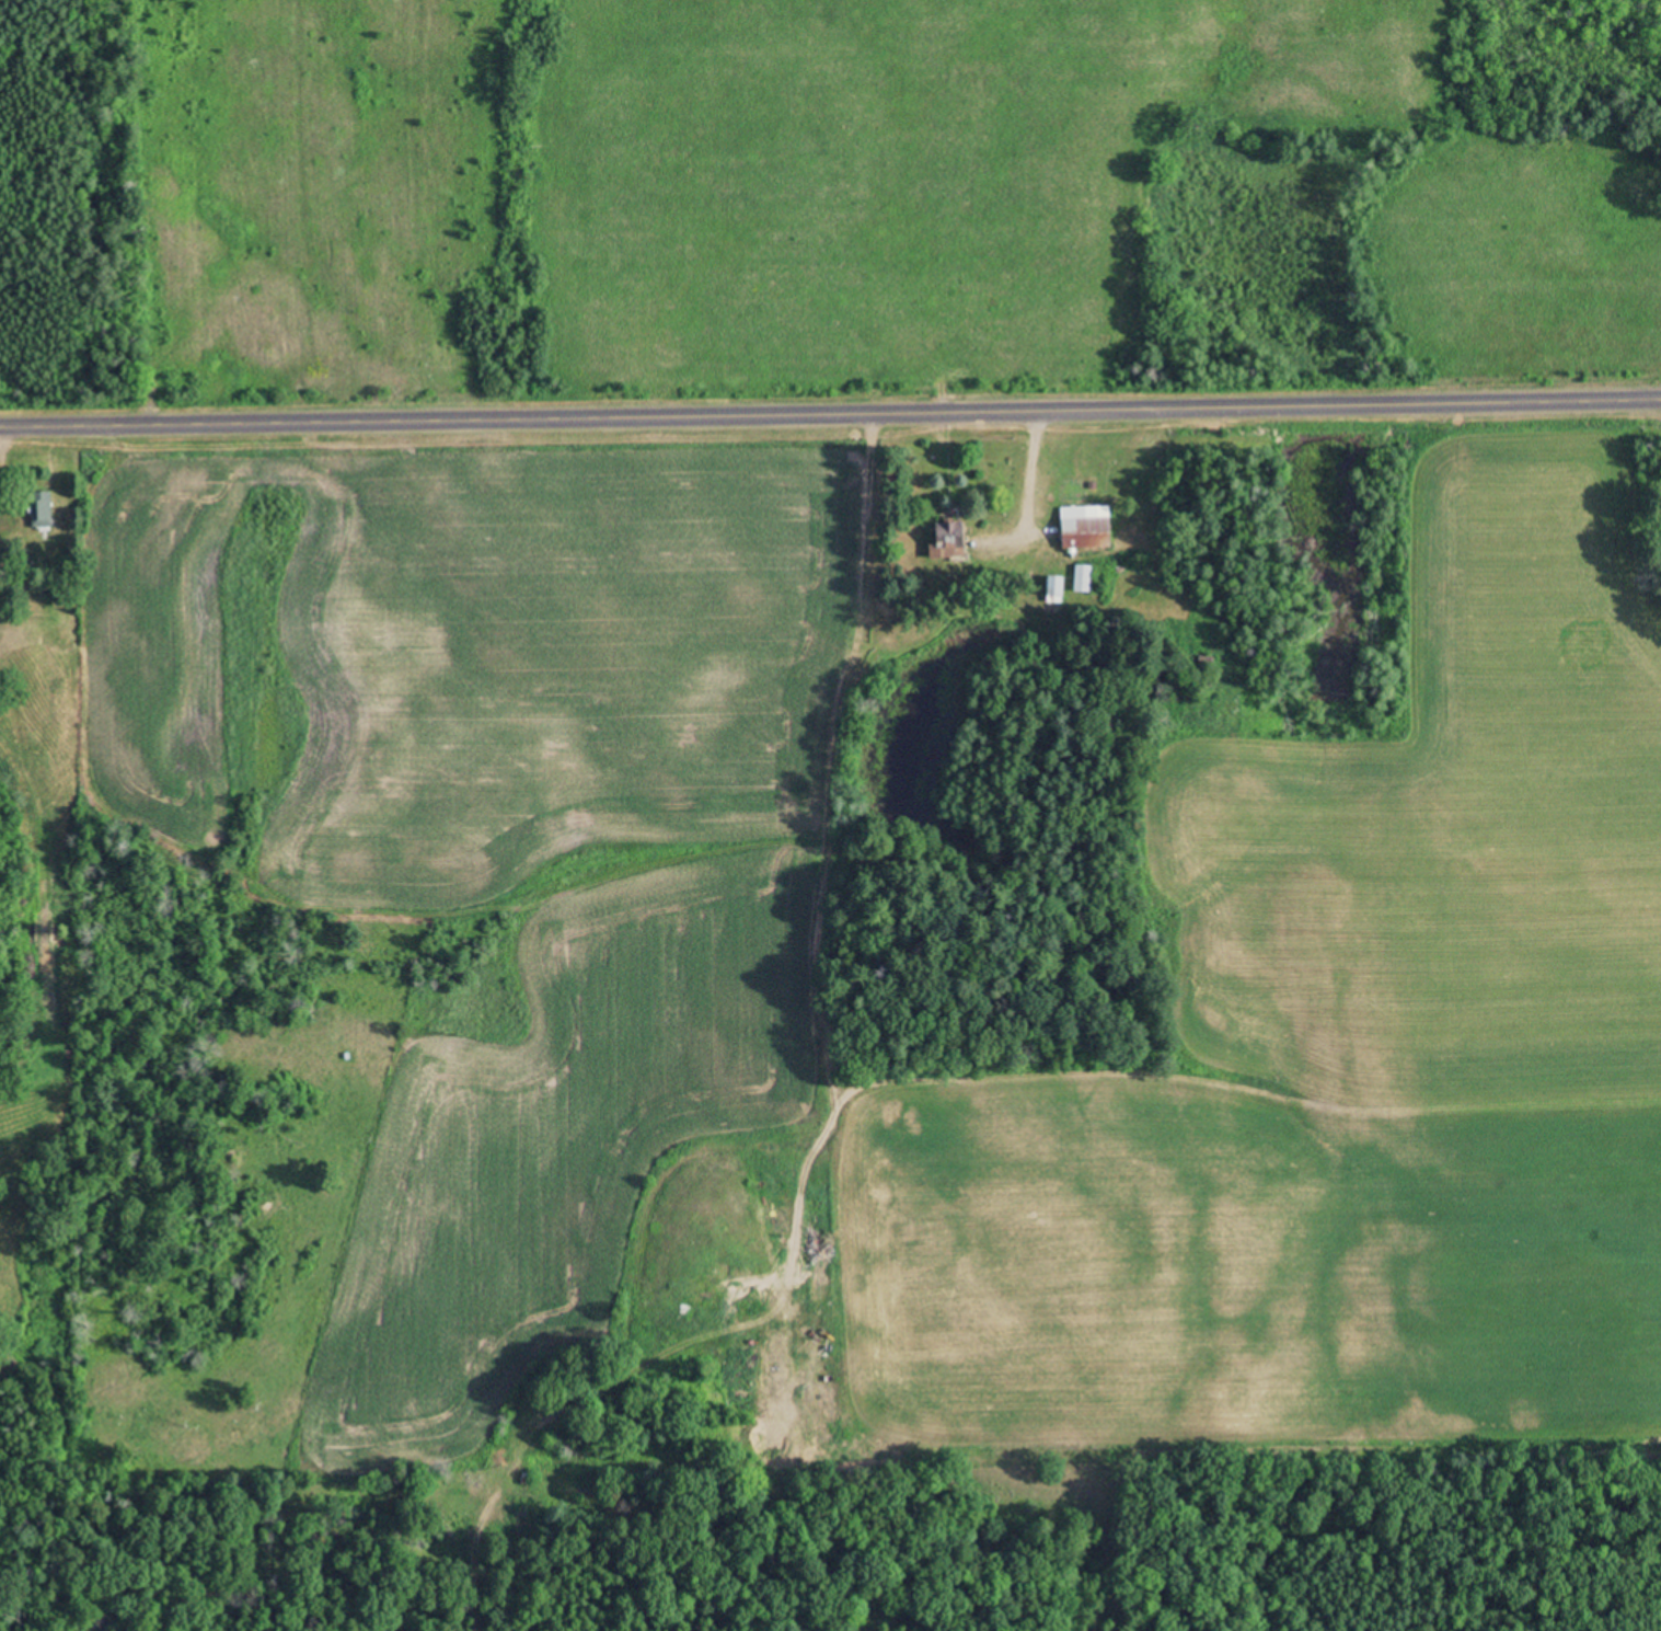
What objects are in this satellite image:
road: (830, 416)
building: (38, 512)
building: (1083, 528)
building: (943, 543)
building: (1081, 579)
building: (1051, 587)

